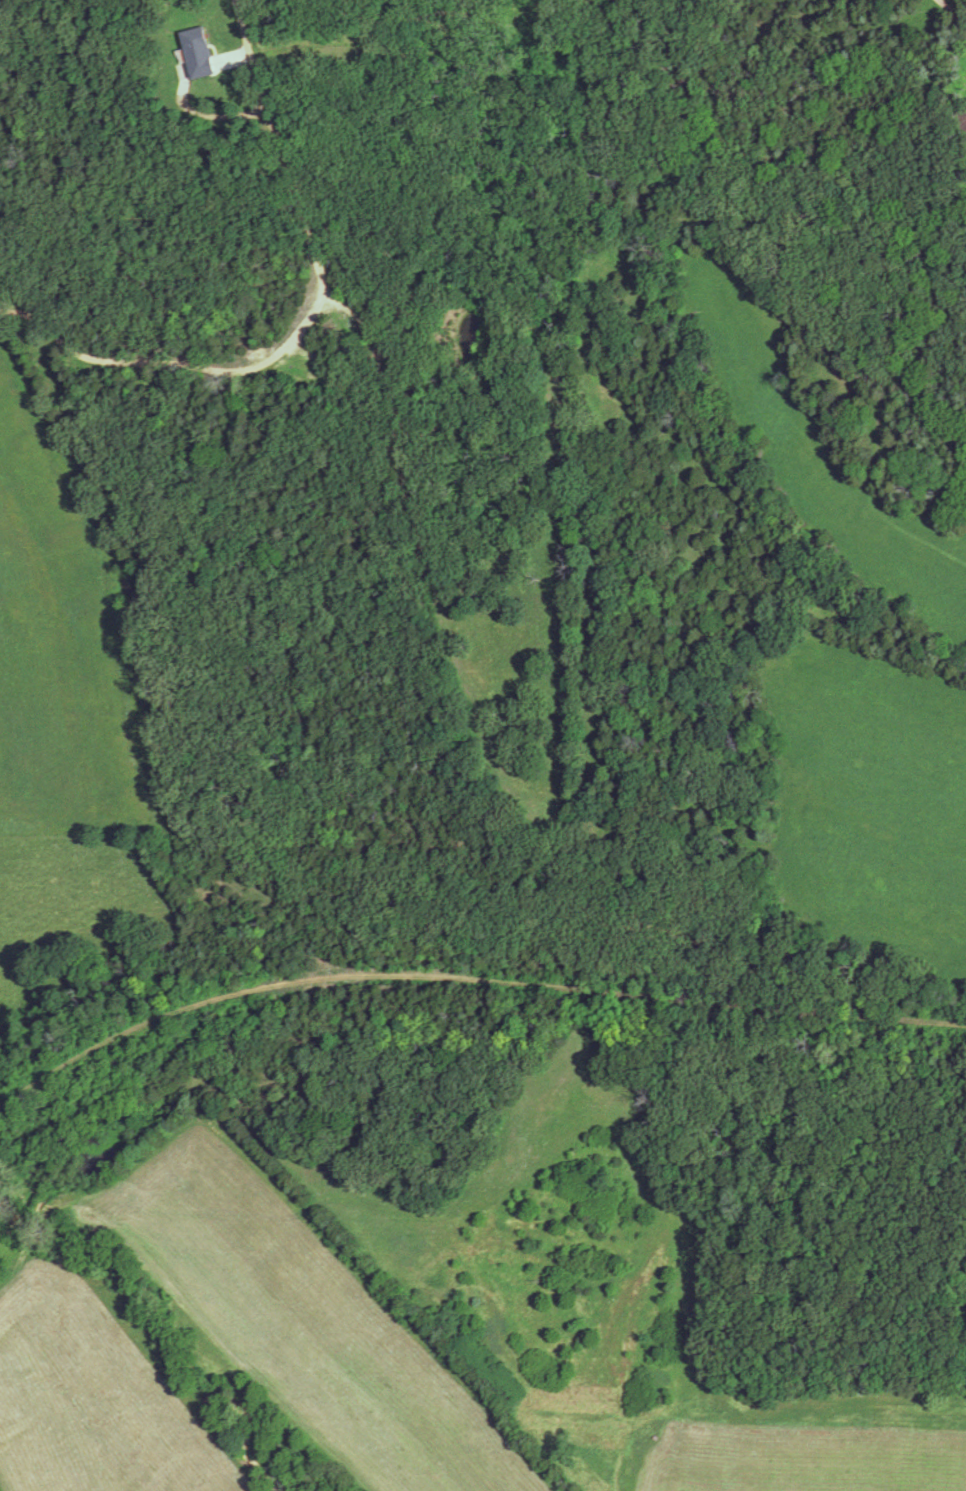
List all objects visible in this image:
building: (200, 52)
road: (325, 296)
building: (298, 371)

